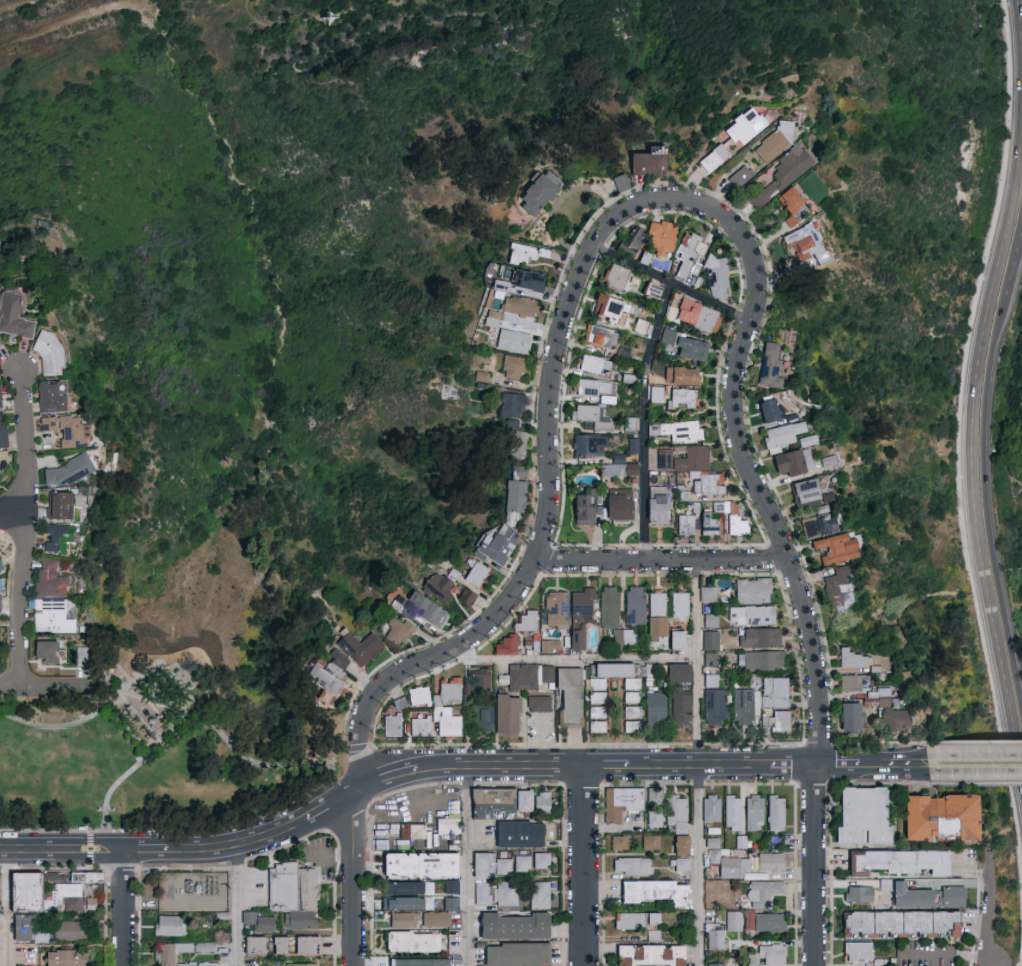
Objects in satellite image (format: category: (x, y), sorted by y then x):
road: (1020, 16)
building: (749, 127)
building: (779, 142)
building: (717, 159)
building: (754, 160)
building: (653, 163)
building: (785, 175)
building: (743, 178)
building: (623, 183)
building: (538, 194)
building: (796, 206)
road: (621, 208)
building: (665, 238)
building: (634, 243)
building: (810, 245)
building: (527, 254)
building: (691, 258)
building: (647, 259)
road: (1015, 260)
building: (718, 276)
building: (618, 277)
road: (669, 280)
building: (531, 281)
building: (502, 289)
building: (656, 291)
building: (522, 307)
building: (614, 310)
building: (673, 314)
building: (16, 317)
building: (701, 317)
building: (495, 319)
building: (643, 328)
building: (602, 338)
building: (516, 342)
building: (1, 345)
building: (688, 346)
building: (52, 354)
building: (625, 354)
building: (596, 365)
building: (515, 367)
building: (775, 368)
building: (484, 377)
building: (685, 377)
building: (631, 380)
building: (595, 388)
building: (658, 393)
building: (1, 397)
building: (53, 399)
building: (610, 400)
building: (684, 400)
building: (513, 406)
building: (773, 411)
building: (594, 418)
road: (644, 418)
building: (793, 419)
building: (509, 423)
building: (514, 426)
building: (632, 426)
building: (71, 431)
building: (681, 432)
building: (4, 434)
building: (785, 438)
building: (805, 439)
building: (810, 442)
building: (520, 446)
building: (592, 446)
building: (636, 447)
road: (971, 455)
building: (695, 459)
building: (5, 460)
building: (621, 460)
building: (667, 460)
building: (830, 462)
building: (796, 464)
building: (521, 471)
building: (622, 471)
building: (73, 472)
building: (709, 485)
building: (85, 490)
building: (684, 495)
building: (808, 495)
building: (829, 496)
road: (987, 496)
building: (517, 500)
building: (623, 506)
road: (12, 507)
building: (63, 507)
building: (661, 507)
building: (588, 508)
building: (698, 508)
building: (719, 508)
building: (824, 511)
building: (737, 521)
road: (23, 525)
building: (711, 525)
building: (821, 526)
building: (688, 527)
building: (62, 539)
building: (500, 547)
building: (839, 550)
road: (660, 559)
building: (2, 566)
building: (456, 575)
building: (479, 576)
building: (0, 578)
building: (53, 582)
building: (440, 589)
building: (840, 591)
building: (755, 592)
building: (711, 596)
building: (469, 598)
building: (2, 605)
building: (638, 608)
building: (683, 608)
building: (611, 609)
building: (408, 611)
building: (558, 612)
building: (583, 617)
building: (755, 617)
building: (54, 618)
building: (708, 619)
building: (659, 622)
building: (714, 622)
building: (529, 624)
building: (401, 632)
building: (632, 638)
building: (673, 638)
building: (763, 639)
building: (620, 640)
building: (681, 642)
building: (569, 643)
building: (530, 644)
building: (510, 646)
building: (537, 646)
building: (552, 647)
building: (361, 648)
building: (49, 651)
building: (0, 657)
building: (85, 657)
road: (573, 659)
building: (854, 659)
building: (713, 662)
building: (765, 662)
building: (878, 670)
building: (613, 672)
building: (681, 675)
building: (901, 677)
building: (332, 678)
building: (529, 678)
road: (182, 680)
building: (484, 682)
building: (629, 682)
building: (714, 682)
building: (757, 682)
building: (852, 684)
road: (35, 685)
building: (600, 685)
building: (635, 685)
building: (469, 690)
building: (882, 693)
building: (778, 694)
building: (422, 698)
building: (573, 698)
building: (599, 698)
building: (635, 699)
building: (886, 703)
building: (896, 703)
building: (656, 704)
building: (402, 705)
building: (541, 705)
building: (748, 707)
building: (440, 708)
building: (684, 708)
building: (718, 708)
building: (484, 713)
building: (600, 713)
building: (635, 713)
building: (509, 715)
building: (853, 718)
building: (897, 720)
building: (767, 722)
building: (784, 722)
building: (395, 727)
building: (423, 728)
building: (599, 728)
building: (635, 728)
park: (167, 747)
road: (695, 762)
road: (607, 764)
road: (975, 764)
road: (503, 765)
road: (699, 765)
road: (899, 765)
road: (792, 766)
road: (816, 766)
road: (844, 766)
road: (134, 768)
road: (393, 774)
road: (356, 790)
building: (657, 797)
building: (519, 800)
building: (527, 801)
building: (495, 803)
building: (624, 803)
road: (327, 806)
building: (545, 806)
building: (678, 810)
building: (714, 810)
building: (735, 813)
building: (757, 813)
building: (778, 814)
building: (866, 817)
building: (945, 818)
building: (657, 819)
building: (450, 827)
building: (682, 828)
building: (415, 831)
building: (523, 835)
building: (778, 840)
road: (241, 842)
building: (621, 843)
building: (653, 843)
building: (715, 843)
building: (744, 843)
building: (684, 845)
road: (91, 850)
road: (148, 850)
road: (63, 852)
building: (716, 858)
building: (544, 861)
building: (900, 862)
building: (758, 863)
building: (774, 863)
building: (525, 864)
road: (586, 865)
building: (685, 865)
building: (424, 866)
road: (470, 866)
building: (492, 866)
road: (814, 866)
building: (635, 867)
building: (735, 868)
building: (54, 876)
building: (82, 876)
building: (759, 877)
road: (348, 881)
building: (280, 886)
building: (887, 886)
building: (305, 887)
building: (454, 887)
building: (412, 889)
building: (22, 890)
building: (657, 893)
building: (766, 893)
building: (485, 895)
building: (509, 895)
building: (861, 895)
building: (542, 896)
building: (63, 897)
building: (930, 897)
road: (240, 904)
building: (409, 904)
building: (454, 905)
road: (9, 908)
road: (127, 909)
building: (298, 918)
road: (991, 918)
building: (438, 920)
building: (257, 921)
building: (406, 921)
building: (638, 921)
building: (736, 922)
building: (766, 922)
building: (168, 924)
building: (904, 925)
building: (17, 927)
building: (518, 927)
building: (67, 929)
building: (38, 935)
building: (656, 936)
building: (718, 938)
building: (415, 942)
building: (276, 944)
building: (304, 944)
building: (252, 945)
building: (860, 952)
building: (521, 955)
building: (775, 955)
road: (946, 955)
building: (163, 956)
building: (653, 956)
building: (62, 957)
building: (755, 959)
building: (422, 963)
building: (881, 963)
building: (298, 964)
building: (719, 965)

